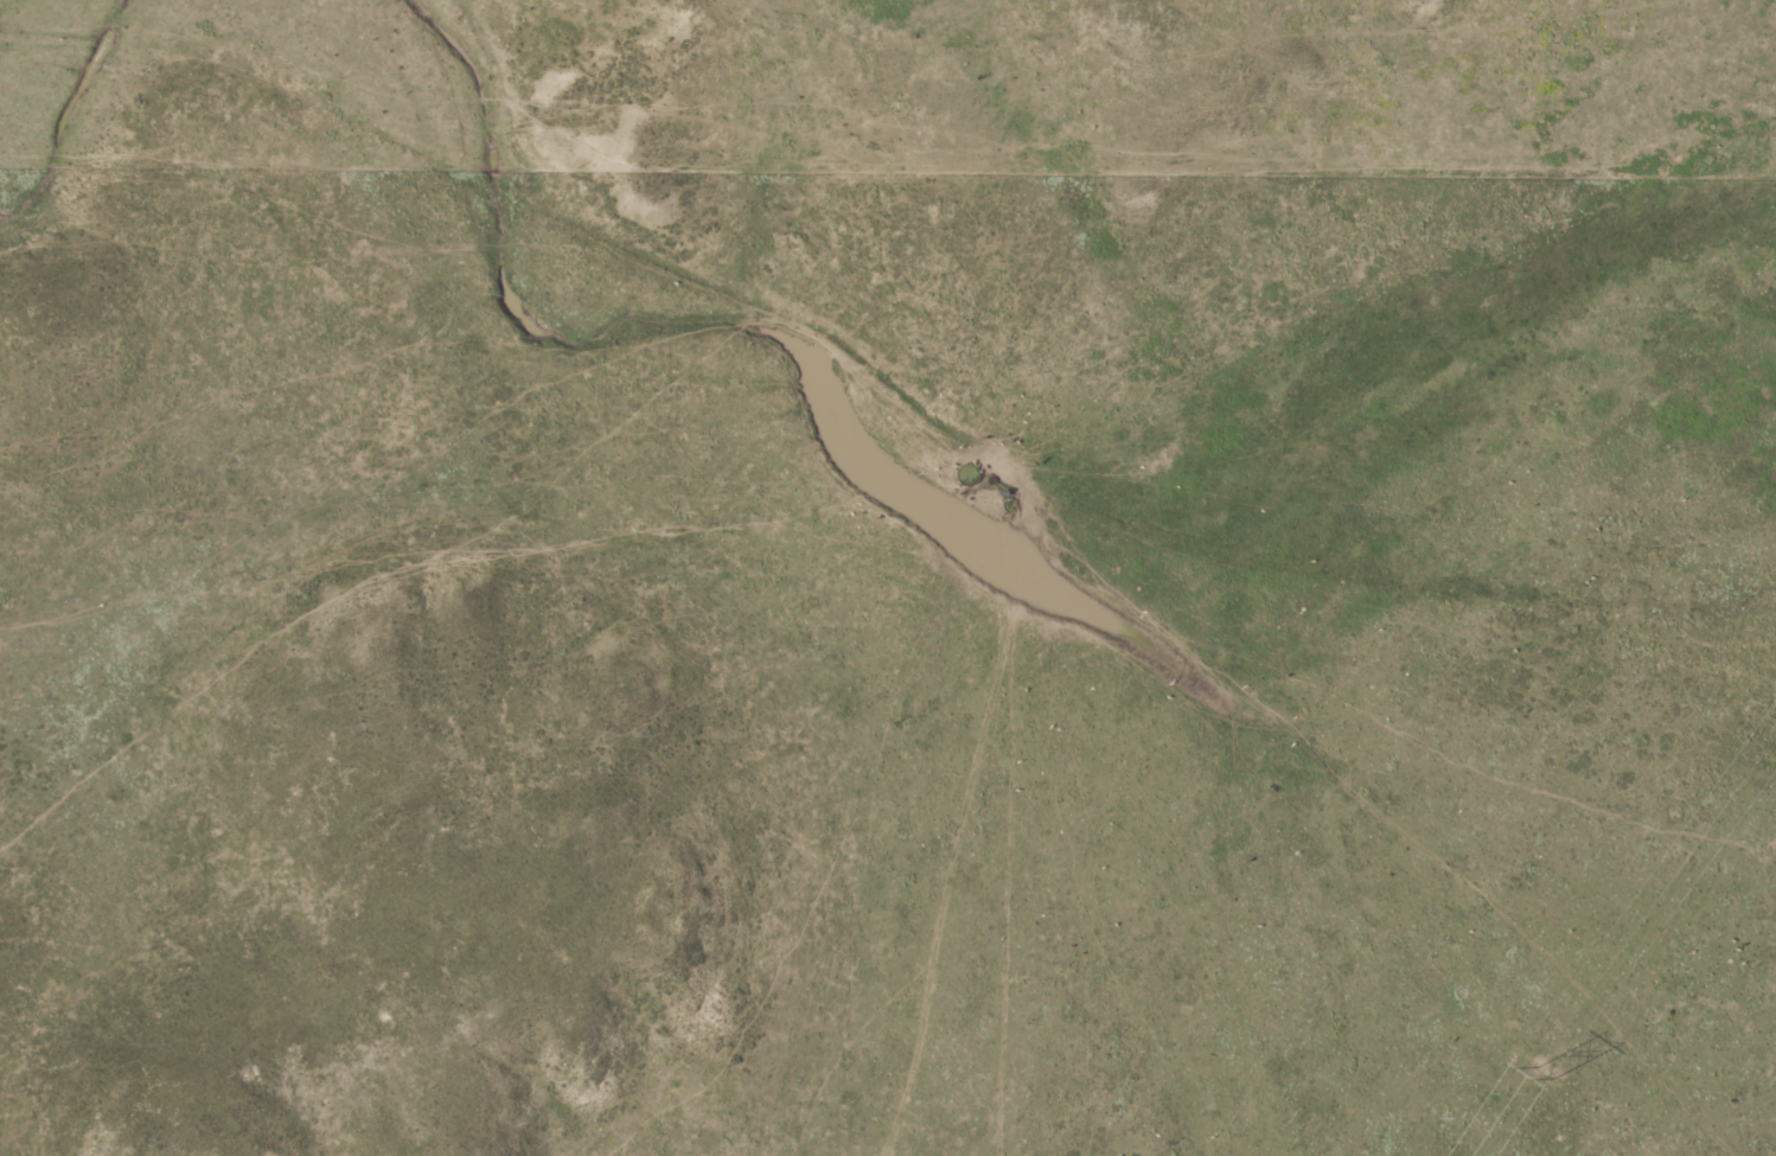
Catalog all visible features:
power tower: (1531, 1071)

